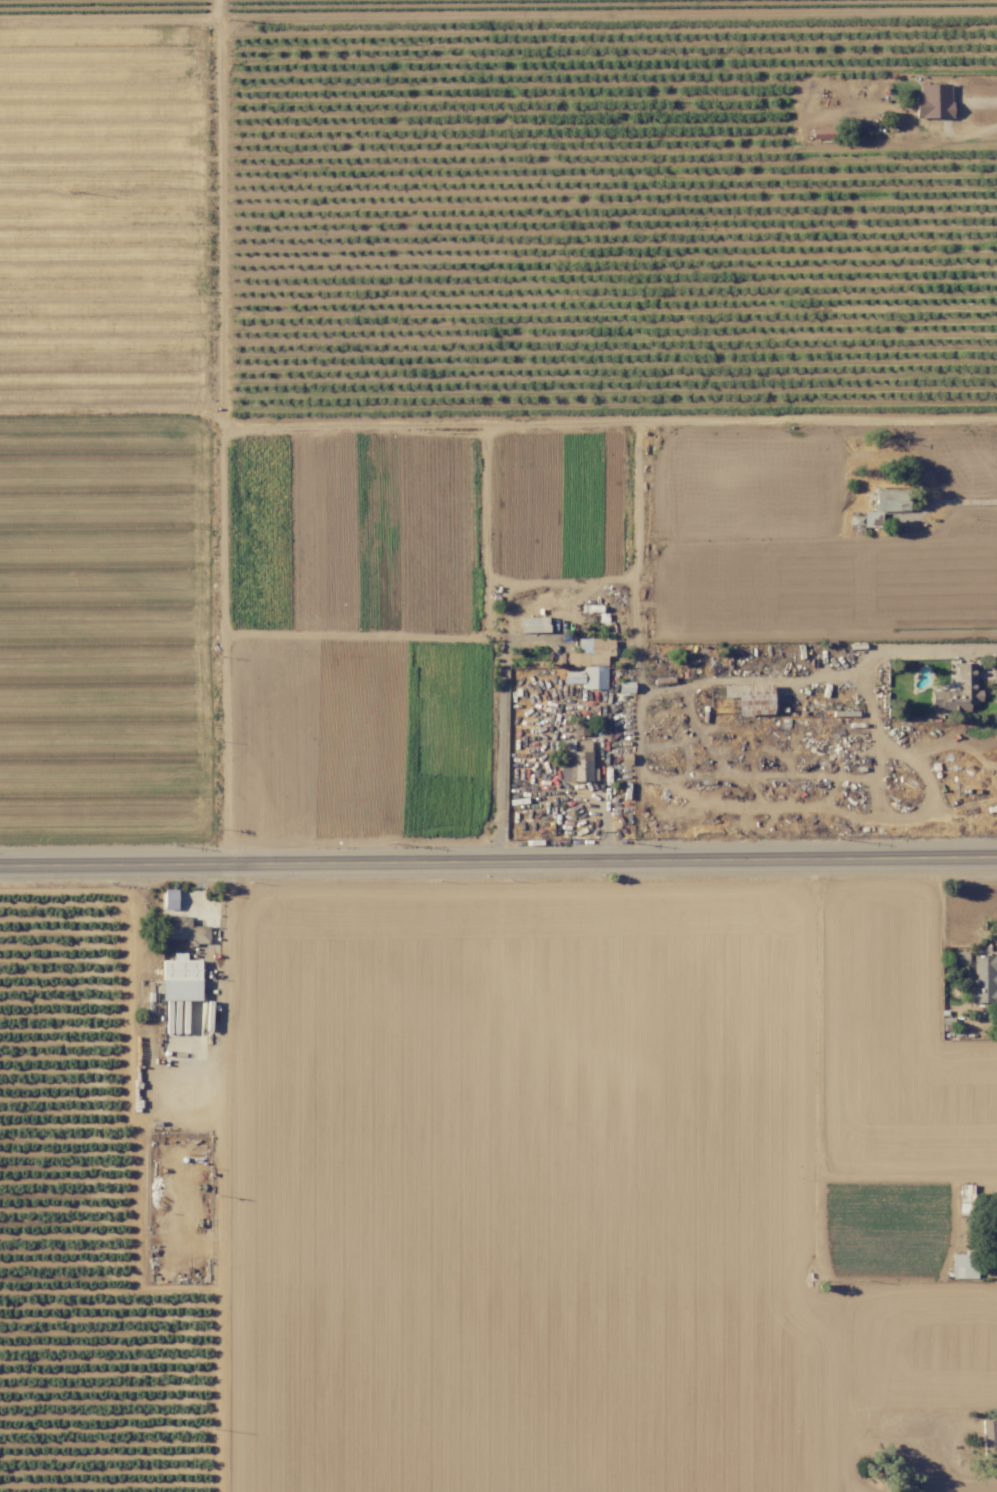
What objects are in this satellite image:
road: (981, 99)
building: (932, 100)
crop: (580, 231)
road: (947, 505)
building: (881, 506)
crop: (112, 623)
building: (533, 623)
building: (589, 663)
building: (625, 686)
building: (957, 689)
building: (750, 698)
road: (502, 721)
building: (579, 726)
building: (576, 760)
road: (607, 783)
road: (498, 860)
building: (170, 898)
building: (182, 929)
building: (960, 957)
building: (180, 978)
building: (984, 978)
crop: (585, 1072)
crop: (112, 1185)
building: (996, 1208)
building: (963, 1264)
crop: (614, 1384)
building: (988, 1436)

